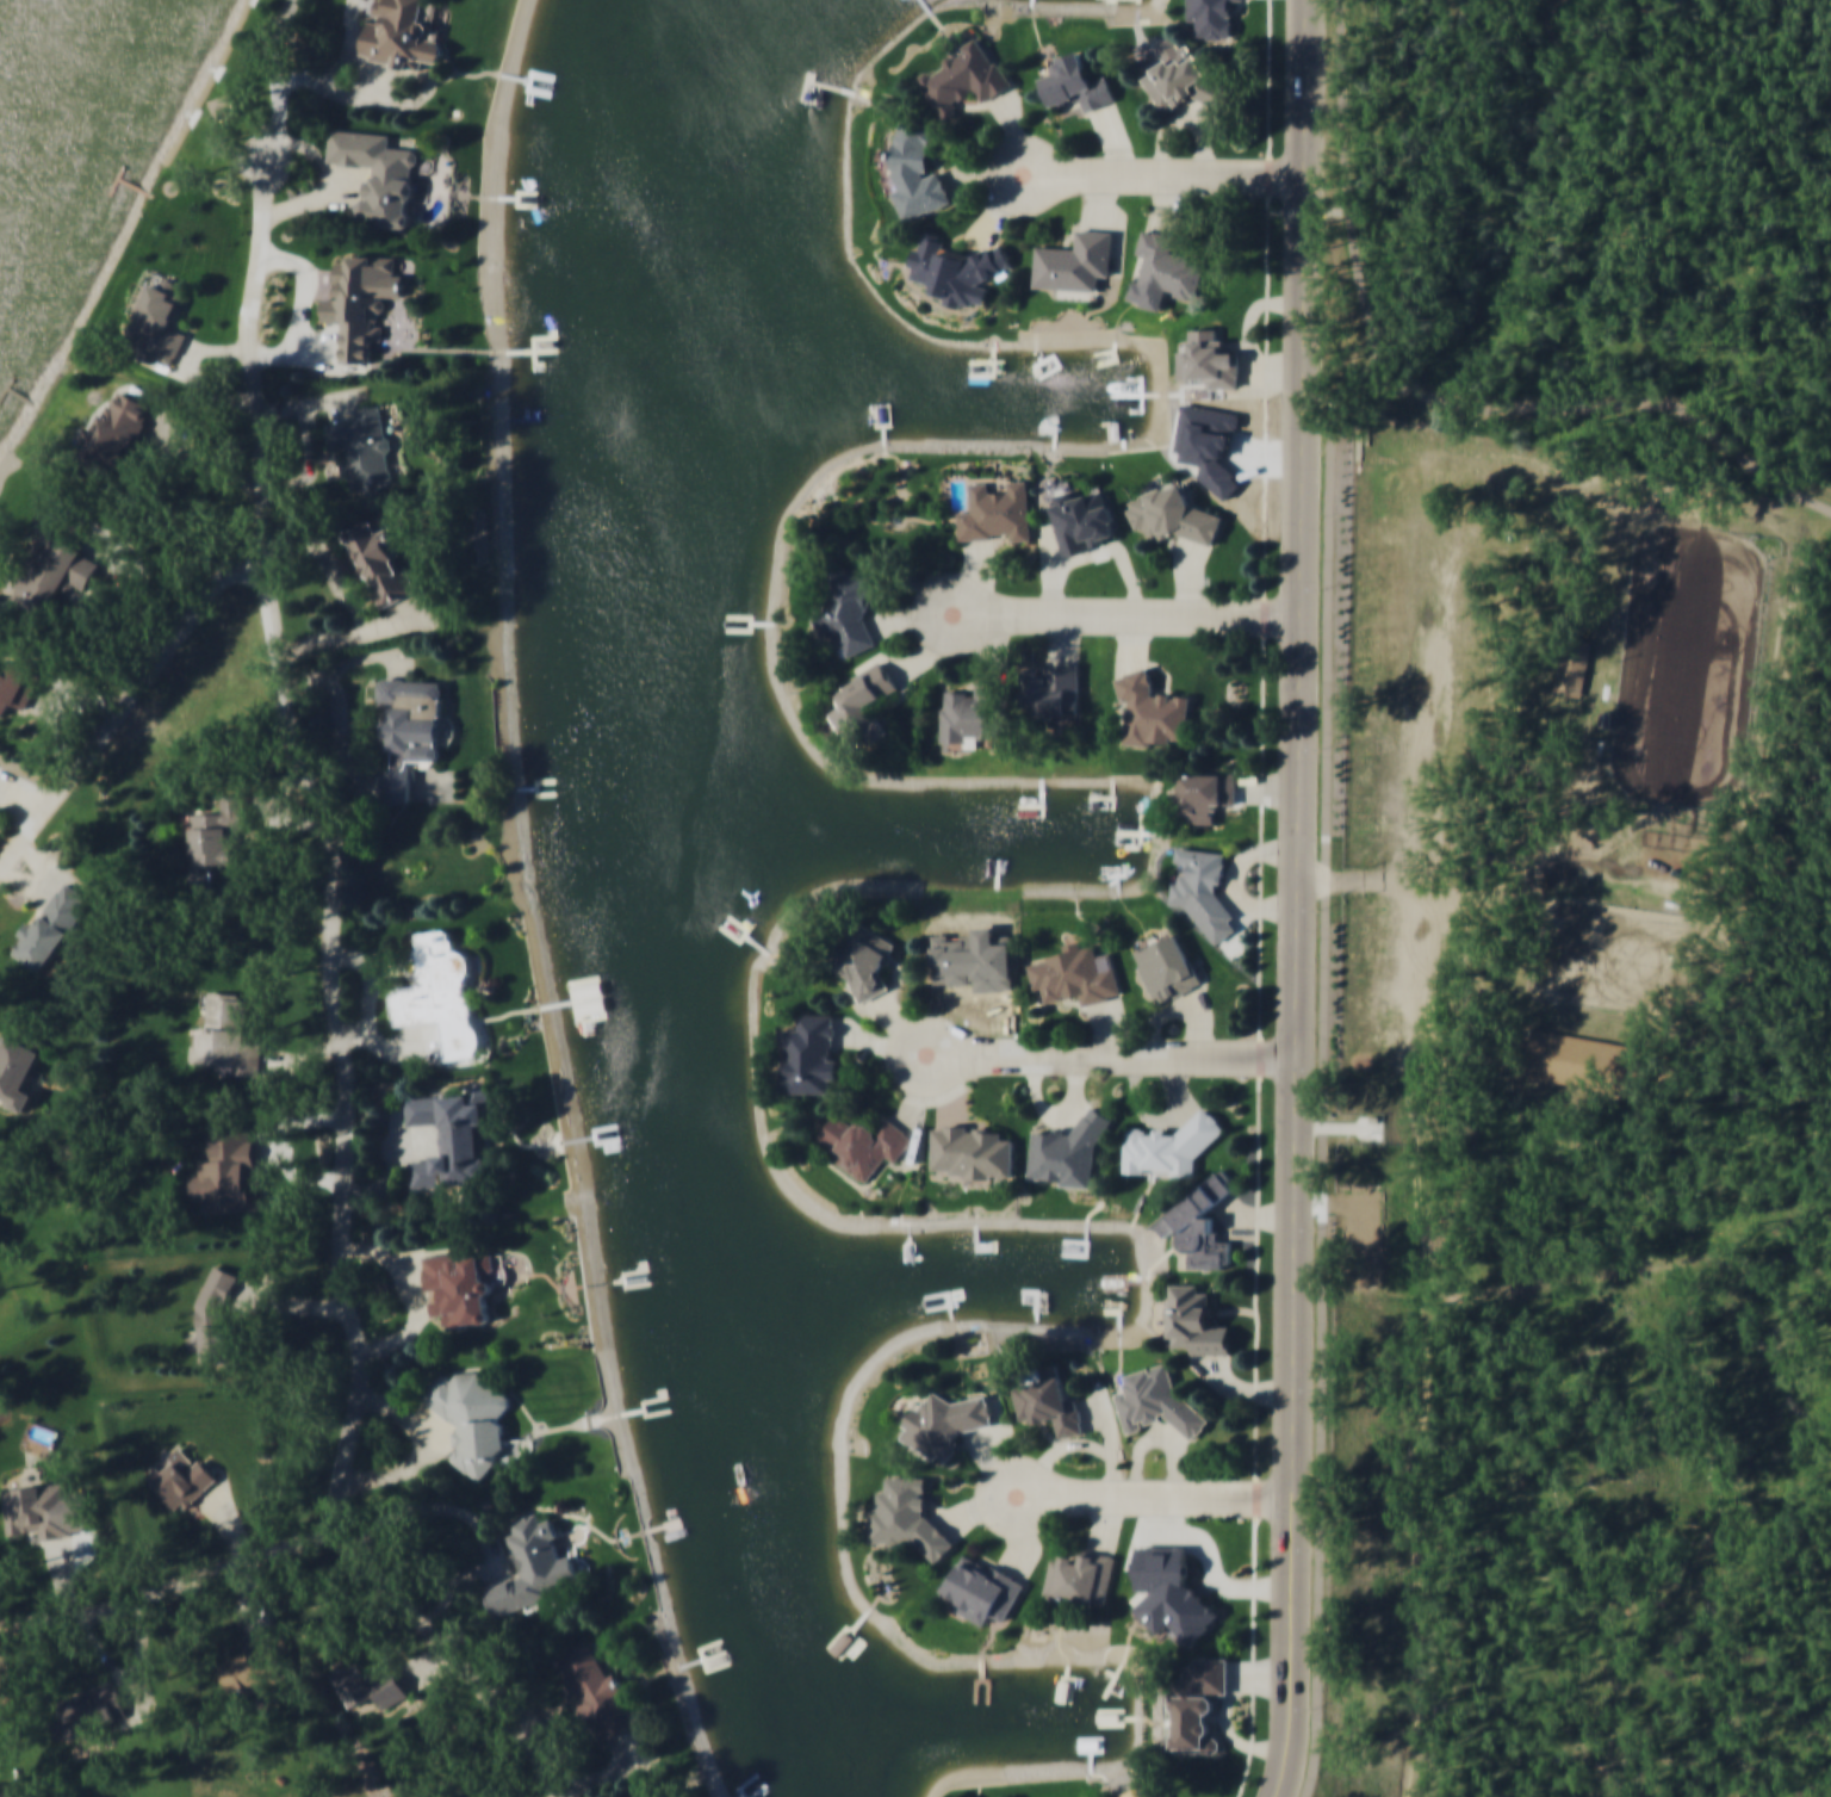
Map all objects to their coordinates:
building: (1211, 17)
building: (398, 37)
road: (349, 47)
road: (275, 75)
building: (966, 76)
building: (1183, 79)
building: (1076, 82)
road: (341, 89)
road: (312, 150)
building: (917, 166)
road: (1173, 174)
building: (378, 178)
road: (998, 186)
road: (316, 198)
building: (1075, 260)
building: (1167, 266)
building: (956, 268)
road: (302, 308)
building: (360, 308)
building: (157, 324)
road: (316, 345)
road: (186, 355)
building: (1209, 358)
road: (195, 372)
road: (1432, 399)
road: (312, 403)
building: (114, 436)
building: (364, 452)
road: (204, 457)
road: (309, 463)
building: (997, 512)
building: (1173, 514)
building: (1082, 520)
building: (58, 557)
building: (380, 565)
road: (329, 566)
road: (134, 580)
building: (848, 609)
road: (1140, 613)
road: (927, 627)
road: (354, 637)
park: (1690, 659)
road: (370, 661)
building: (1576, 669)
building: (18, 689)
building: (1230, 690)
building: (1048, 696)
road: (54, 701)
building: (865, 704)
road: (123, 706)
building: (1153, 712)
building: (967, 717)
road: (67, 719)
building: (1612, 724)
building: (405, 735)
road: (343, 745)
building: (1206, 793)
road: (2, 795)
road: (20, 801)
road: (263, 807)
road: (281, 810)
road: (333, 837)
building: (217, 839)
road: (39, 863)
road: (27, 881)
building: (1203, 882)
road: (1261, 899)
road: (1296, 899)
road: (532, 906)
building: (48, 932)
building: (864, 956)
park: (1626, 959)
building: (1167, 967)
building: (1075, 973)
building: (433, 975)
road: (374, 980)
building: (596, 1015)
building: (229, 1034)
building: (811, 1053)
road: (396, 1054)
road: (1125, 1055)
road: (303, 1059)
building: (23, 1062)
building: (1588, 1065)
road: (898, 1070)
road: (1328, 1072)
building: (448, 1133)
park: (1576, 1140)
building: (864, 1142)
road: (284, 1145)
building: (1165, 1146)
road: (269, 1150)
building: (972, 1151)
building: (1068, 1153)
road: (392, 1164)
building: (229, 1169)
road: (1323, 1172)
road: (1386, 1197)
parking lot: (1385, 1203)
building: (1202, 1223)
road: (1597, 1265)
road: (415, 1275)
building: (458, 1275)
road: (414, 1296)
road: (288, 1303)
building: (213, 1312)
building: (1197, 1320)
building: (1049, 1401)
building: (1157, 1405)
building: (472, 1413)
road: (433, 1421)
building: (944, 1423)
road: (414, 1462)
building: (184, 1474)
road: (1169, 1495)
building: (37, 1506)
road: (988, 1510)
road: (478, 1522)
building: (908, 1522)
road: (229, 1524)
road: (1426, 1543)
building: (533, 1561)
road: (501, 1572)
road: (63, 1576)
building: (1081, 1576)
building: (983, 1588)
road: (167, 1590)
building: (1172, 1592)
road: (252, 1593)
building: (836, 1644)
road: (452, 1653)
road: (141, 1654)
road: (106, 1655)
building: (259, 1659)
road: (426, 1666)
building: (371, 1680)
building: (597, 1687)
building: (1198, 1703)
building: (87, 1709)
road: (539, 1721)
road: (609, 1770)
road: (1041, 1774)
building: (1146, 1790)

